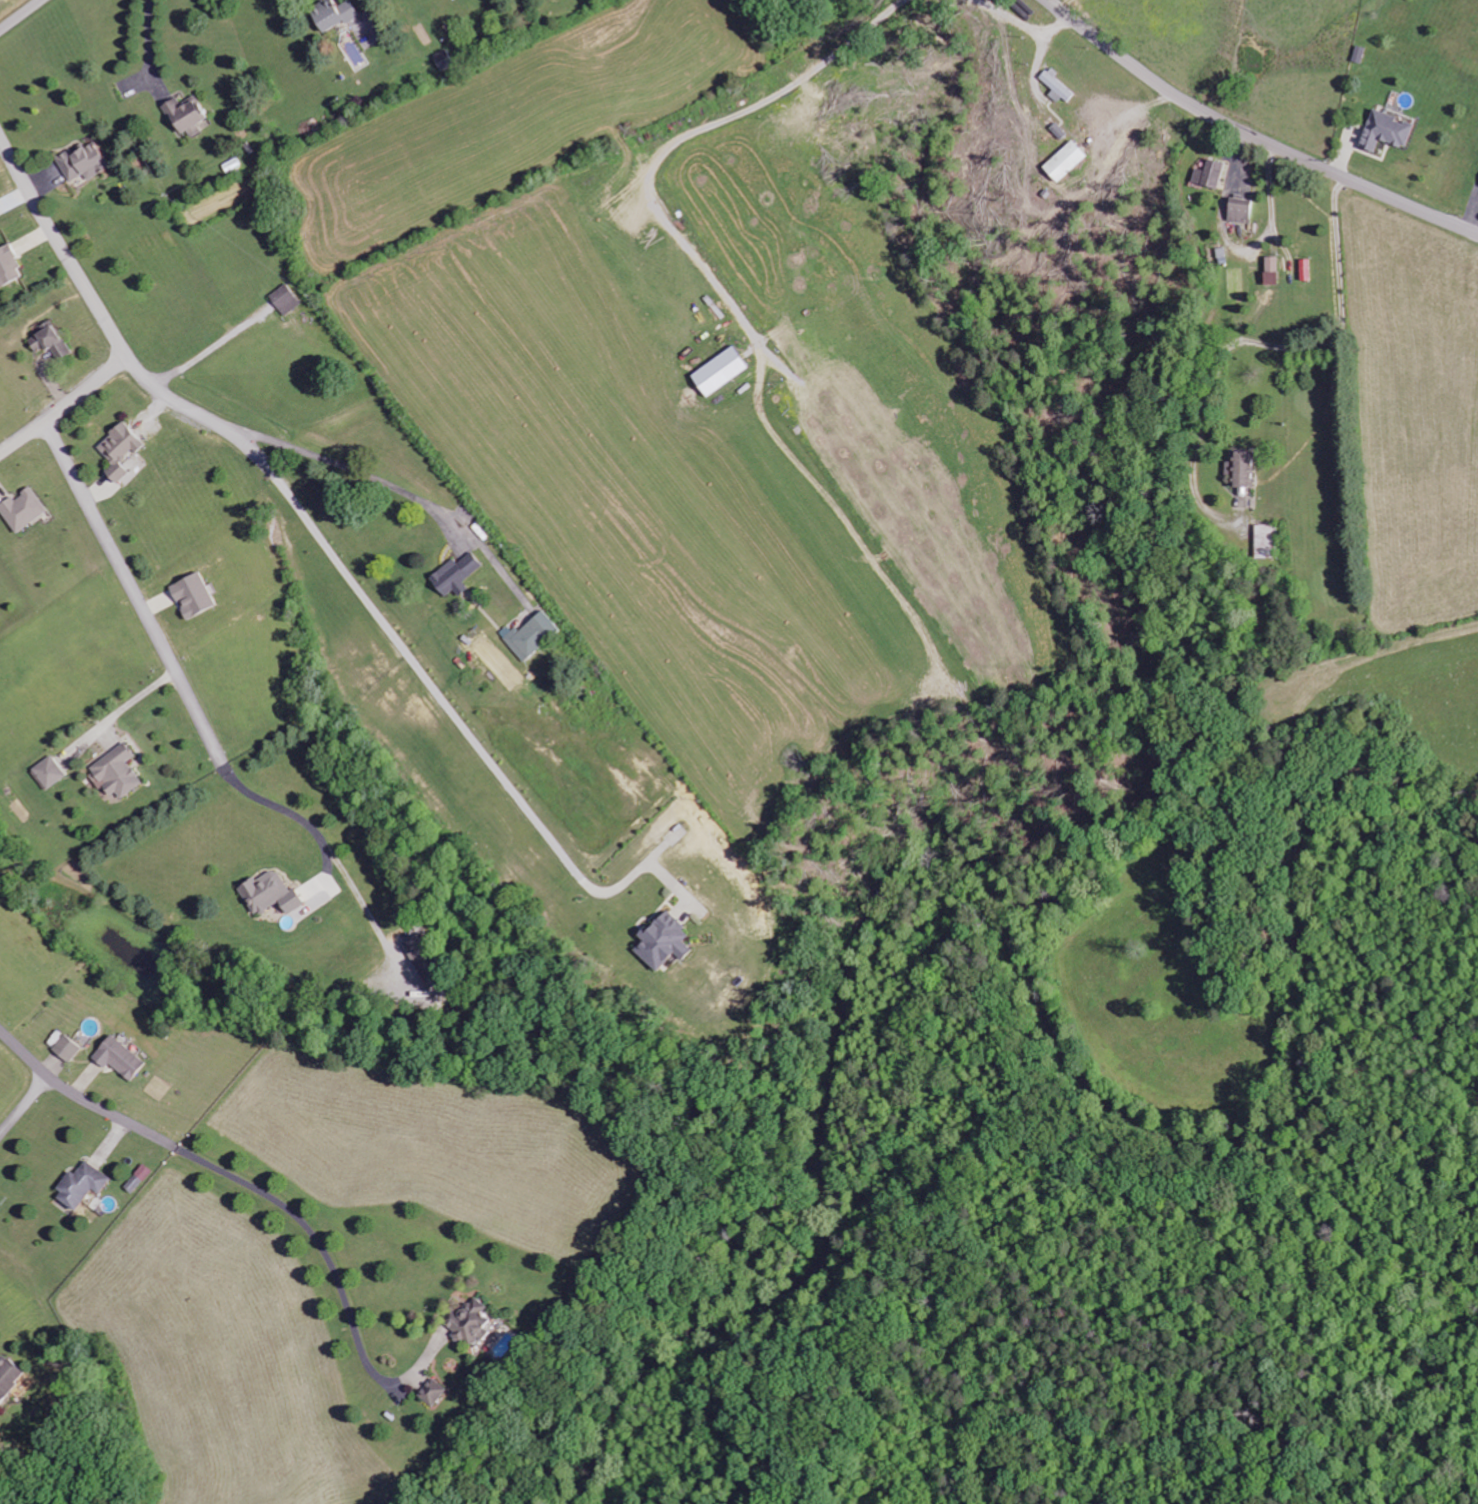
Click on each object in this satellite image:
building: (333, 14)
road: (21, 15)
road: (150, 47)
building: (1359, 54)
building: (444, 60)
building: (1057, 88)
building: (186, 116)
building: (1386, 131)
road: (1252, 136)
building: (1070, 160)
building: (84, 162)
building: (1209, 174)
building: (1240, 210)
building: (9, 267)
building: (1271, 271)
building: (284, 300)
building: (50, 343)
building: (719, 372)
road: (65, 407)
building: (120, 451)
building: (1242, 469)
road: (300, 504)
building: (22, 510)
building: (1266, 542)
building: (454, 575)
road: (136, 595)
building: (193, 596)
building: (531, 636)
building: (49, 773)
building: (117, 773)
building: (269, 895)
building: (663, 942)
building: (425, 962)
building: (66, 1050)
building: (118, 1059)
road: (23, 1104)
road: (124, 1120)
building: (81, 1185)
building: (469, 1321)
building: (8, 1376)
building: (433, 1392)

